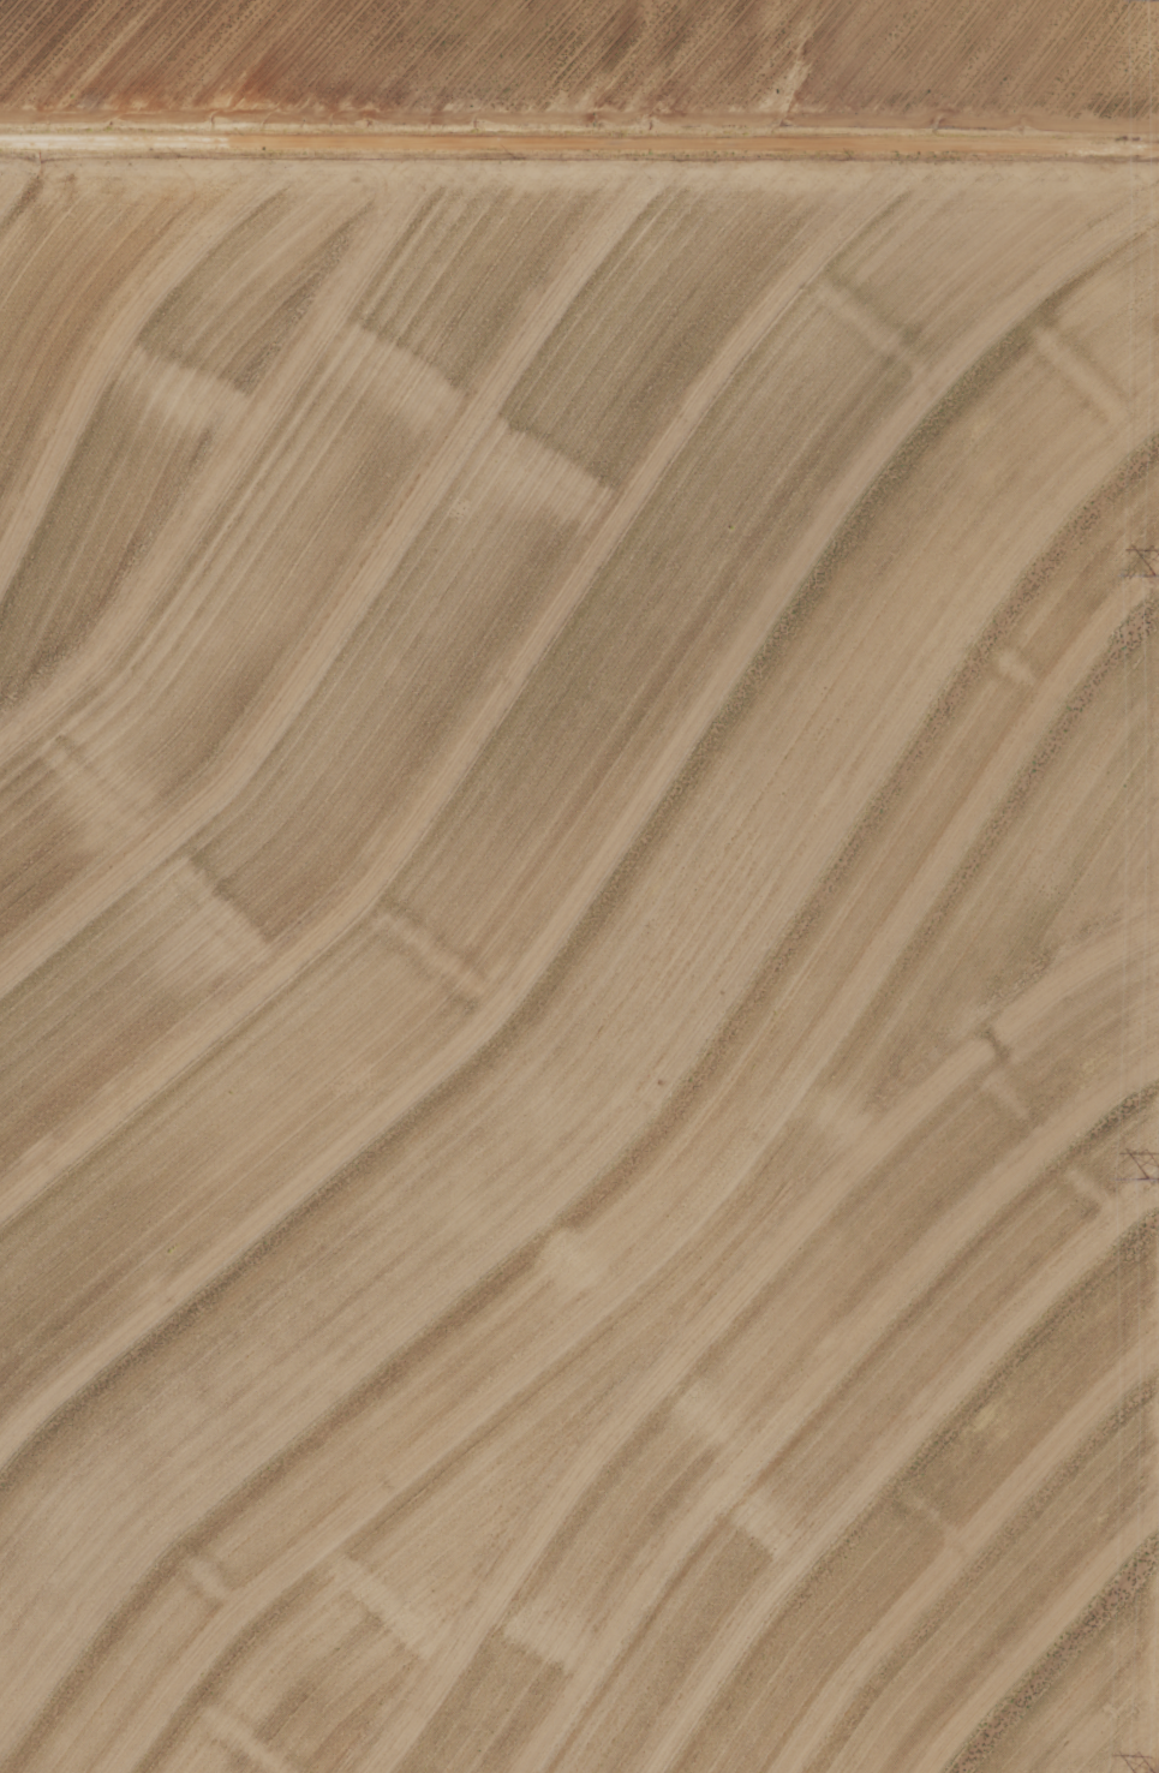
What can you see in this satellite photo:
road: (579, 160)

